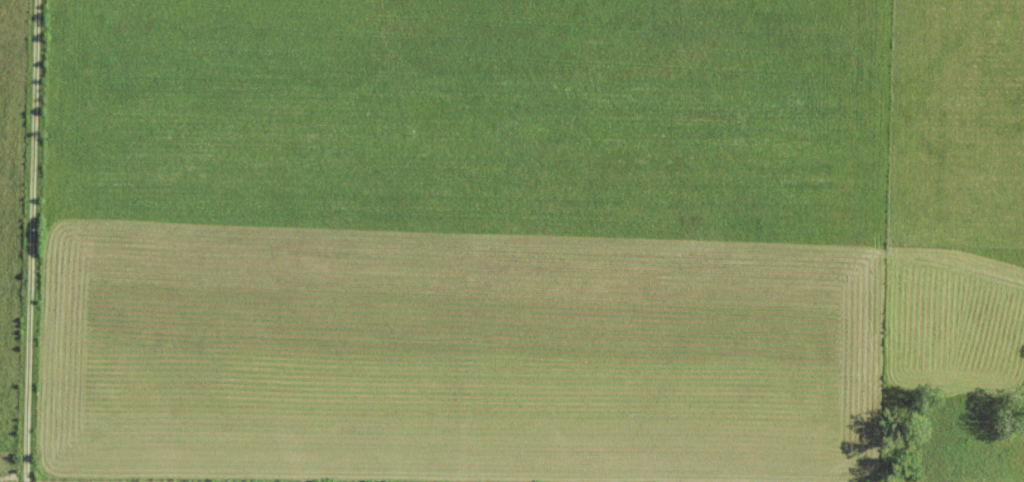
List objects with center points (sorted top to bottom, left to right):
road: (35, 241)

